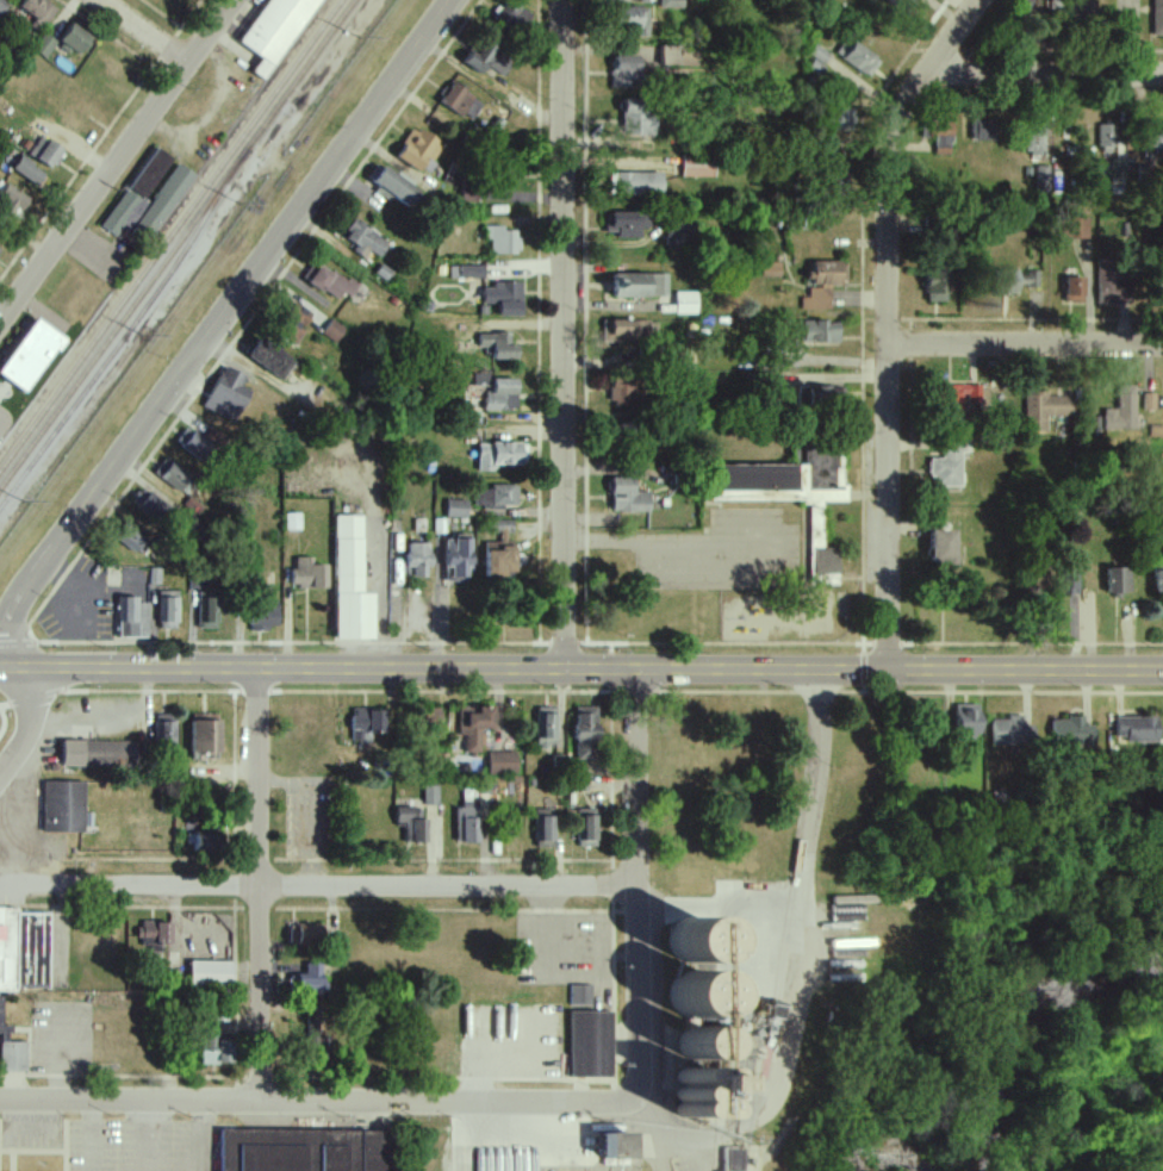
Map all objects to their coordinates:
building: (671, 4)
building: (2, 5)
building: (902, 6)
building: (1030, 7)
building: (38, 12)
building: (1157, 18)
building: (632, 19)
building: (276, 31)
road: (145, 32)
building: (75, 38)
building: (44, 45)
building: (490, 56)
building: (679, 56)
building: (857, 57)
building: (626, 73)
road: (1045, 73)
building: (460, 101)
building: (638, 117)
building: (844, 120)
building: (987, 129)
building: (941, 137)
building: (1107, 139)
building: (1156, 141)
building: (1034, 142)
building: (418, 149)
building: (44, 151)
road: (119, 161)
building: (697, 167)
building: (27, 170)
building: (149, 173)
building: (1041, 179)
building: (636, 183)
building: (397, 187)
building: (163, 199)
building: (12, 200)
road: (1157, 207)
building: (123, 213)
building: (626, 224)
building: (1078, 229)
railway: (170, 235)
building: (502, 239)
building: (365, 241)
building: (0, 245)
railway: (179, 245)
building: (771, 269)
building: (471, 272)
building: (328, 281)
building: (1016, 281)
building: (1111, 282)
building: (823, 284)
building: (938, 285)
building: (640, 286)
building: (1074, 289)
building: (504, 298)
building: (685, 303)
road: (889, 319)
building: (292, 323)
road: (218, 325)
railway: (128, 329)
building: (332, 331)
building: (626, 331)
road: (564, 332)
building: (821, 332)
building: (497, 345)
road: (1026, 345)
building: (270, 357)
building: (20, 362)
building: (481, 380)
building: (624, 394)
building: (226, 395)
building: (502, 395)
building: (819, 399)
building: (962, 400)
building: (1149, 401)
building: (1045, 410)
building: (1120, 411)
parking lot: (2, 425)
building: (1155, 431)
building: (194, 444)
building: (498, 455)
building: (947, 467)
building: (173, 474)
building: (792, 494)
building: (496, 497)
building: (628, 497)
building: (148, 506)
building: (456, 509)
building: (292, 522)
building: (502, 525)
building: (131, 537)
road: (629, 538)
building: (944, 548)
building: (456, 558)
building: (499, 560)
building: (416, 561)
building: (307, 575)
building: (154, 577)
building: (1158, 577)
building: (1059, 581)
building: (1119, 581)
building: (350, 584)
building: (166, 610)
building: (262, 611)
building: (207, 613)
building: (131, 618)
road: (377, 618)
road: (580, 646)
road: (580, 665)
road: (615, 696)
road: (36, 704)
road: (6, 711)
park: (4, 718)
building: (968, 720)
road: (25, 722)
building: (366, 723)
building: (474, 725)
building: (546, 727)
building: (1136, 728)
road: (7, 729)
building: (1007, 731)
building: (1070, 731)
building: (204, 733)
building: (585, 733)
building: (163, 734)
building: (93, 758)
building: (502, 762)
building: (430, 795)
building: (52, 810)
building: (467, 818)
building: (411, 823)
building: (545, 828)
building: (587, 828)
building: (207, 841)
road: (801, 876)
road: (635, 880)
road: (261, 882)
road: (317, 886)
road: (716, 909)
building: (154, 935)
building: (305, 938)
building: (20, 957)
building: (210, 973)
building: (311, 979)
building: (579, 995)
building: (312, 1022)
building: (589, 1044)
building: (217, 1047)
building: (11, 1051)
building: (702, 1095)
road: (317, 1102)
road: (646, 1120)
parking lot: (29, 1133)
road: (85, 1136)
road: (144, 1136)
road: (186, 1136)
parking lot: (129, 1141)
building: (617, 1146)
building: (300, 1153)
road: (658, 1157)

